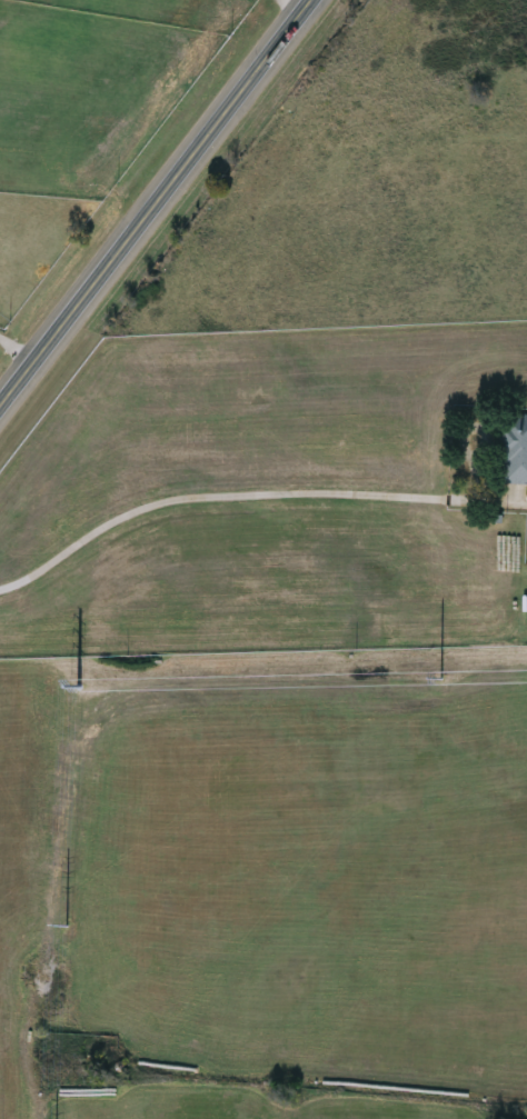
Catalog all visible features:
road: (153, 199)
road: (10, 362)
building: (514, 450)
road: (251, 497)

